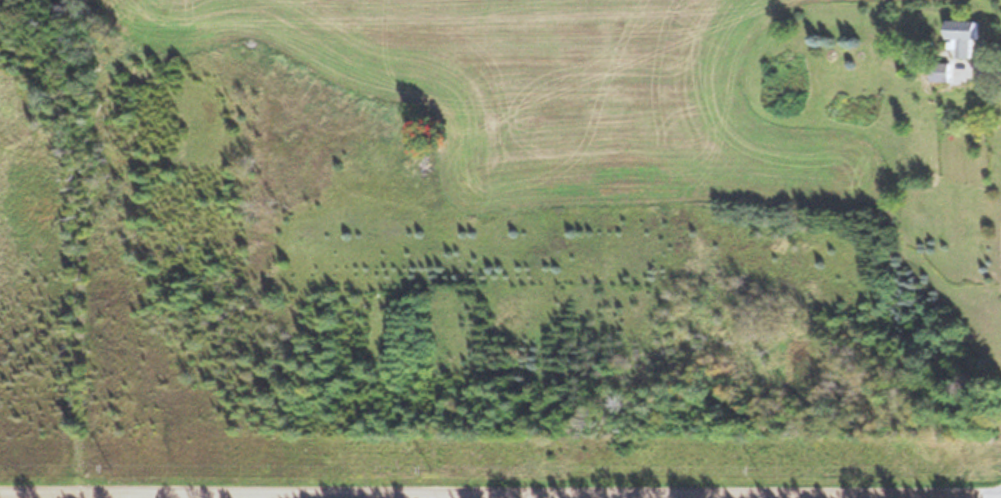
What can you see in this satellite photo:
building: (966, 37)
building: (942, 72)
building: (857, 107)

